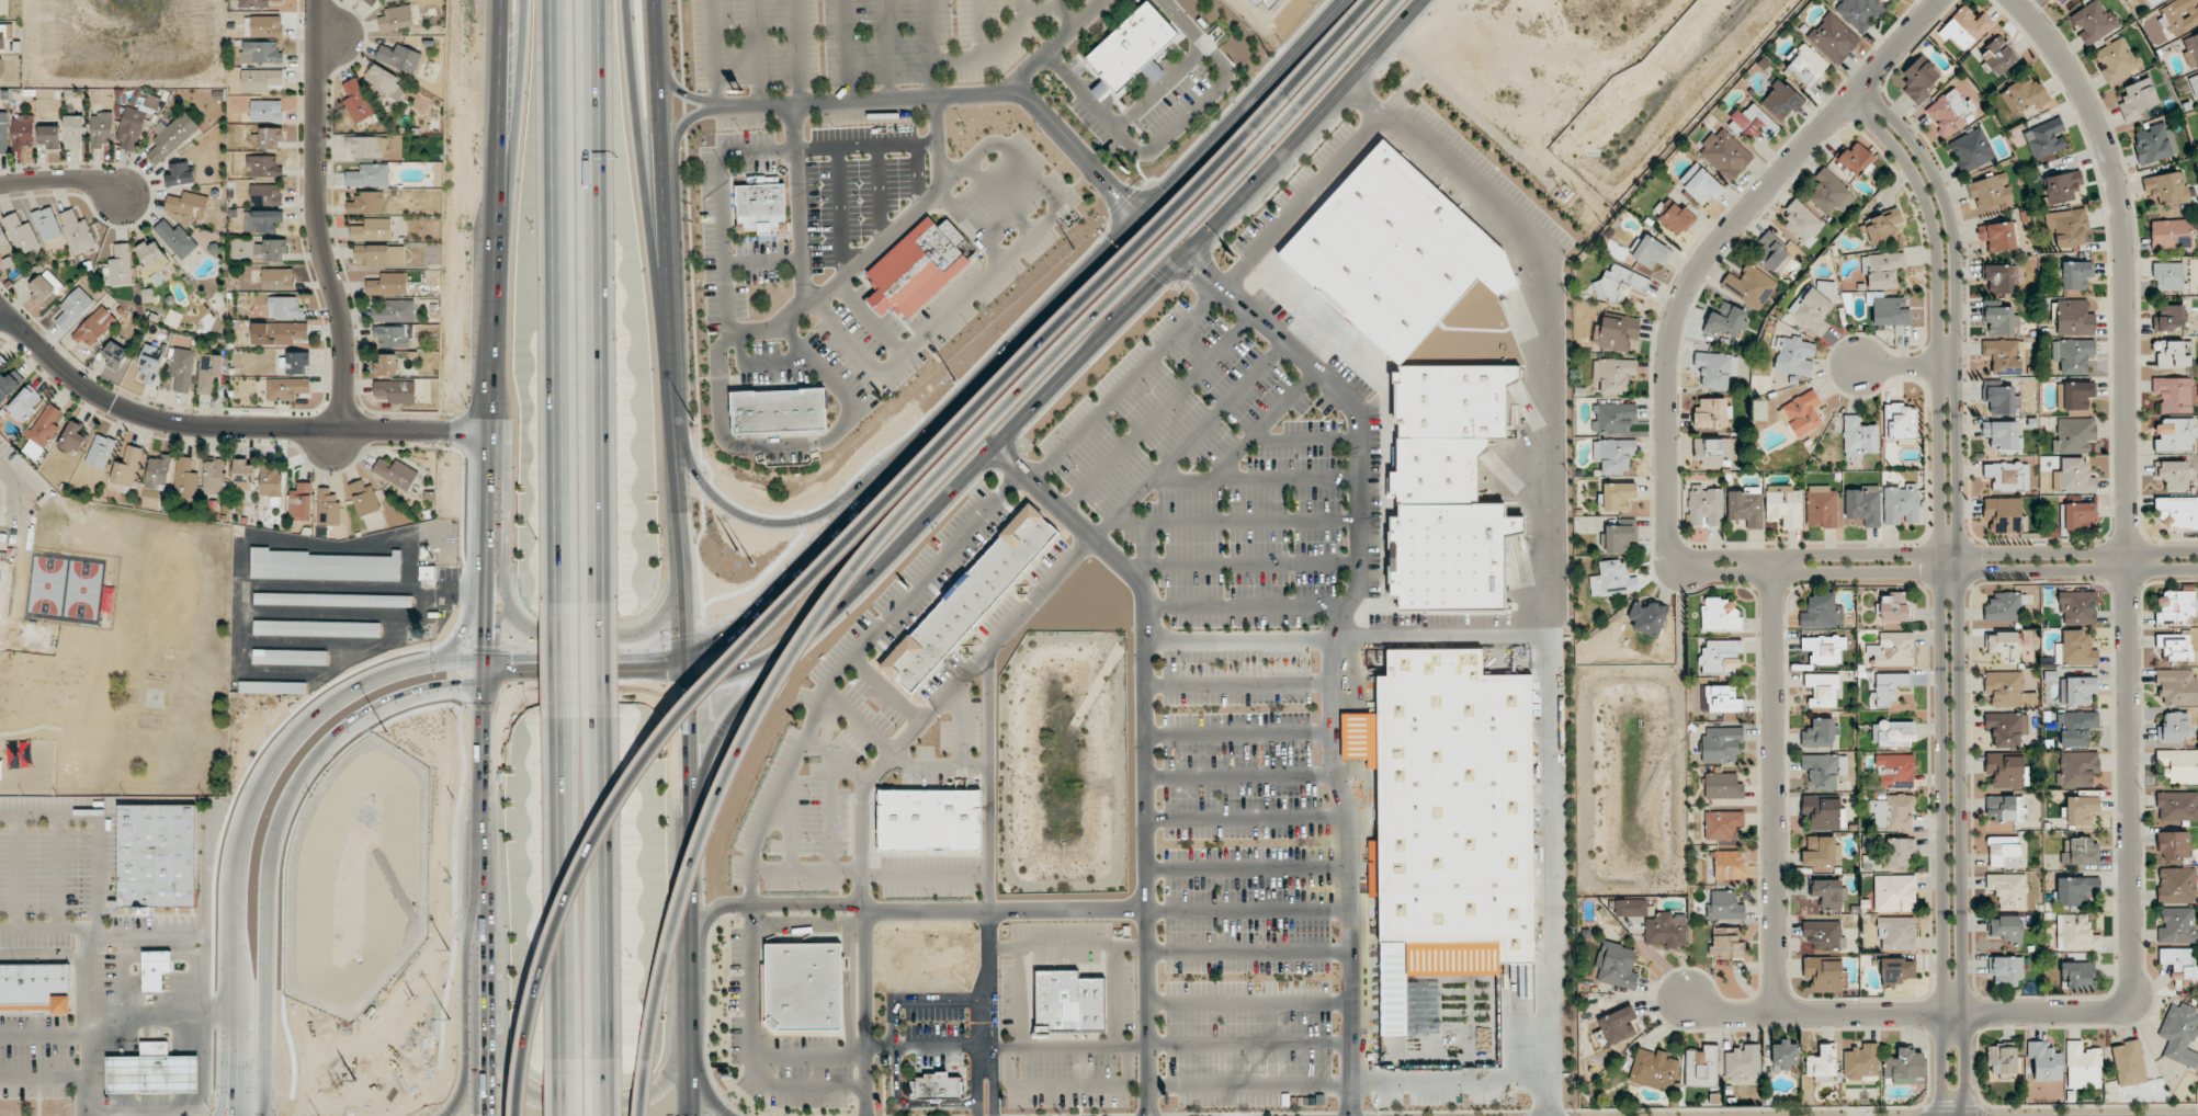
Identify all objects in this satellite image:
building: (1883, 0)
building: (1256, 2)
building: (1273, 2)
building: (2152, 2)
building: (261, 3)
building: (375, 3)
building: (2063, 3)
road: (1060, 4)
road: (1051, 10)
building: (1859, 12)
building: (2180, 15)
building: (397, 18)
building: (2093, 22)
building: (263, 26)
building: (1965, 27)
road: (977, 29)
building: (1833, 38)
road: (1055, 45)
building: (1132, 46)
road: (931, 47)
road: (883, 48)
road: (843, 49)
road: (797, 50)
road: (755, 52)
road: (992, 52)
building: (2191, 52)
building: (261, 53)
road: (713, 53)
building: (1999, 56)
building: (399, 57)
power tower: (1269, 57)
building: (2117, 60)
building: (1808, 66)
building: (0, 69)
building: (1153, 72)
building: (1921, 79)
building: (260, 80)
building: (384, 81)
building: (2194, 84)
road: (680, 93)
building: (2024, 95)
building: (2138, 99)
building: (358, 101)
building: (1781, 101)
building: (267, 111)
building: (136, 122)
building: (1754, 123)
road: (684, 126)
building: (101, 128)
building: (73, 130)
building: (4, 132)
building: (22, 132)
building: (49, 135)
building: (2046, 136)
building: (172, 137)
building: (270, 138)
road: (499, 144)
building: (2154, 144)
road: (518, 145)
building: (366, 146)
building: (1972, 150)
building: (1725, 153)
building: (1856, 159)
building: (262, 166)
road: (647, 170)
road: (664, 170)
building: (181, 174)
building: (369, 175)
road: (60, 180)
building: (1701, 184)
building: (2061, 186)
building: (2166, 187)
building: (1991, 191)
building: (1829, 192)
building: (267, 194)
building: (366, 203)
building: (188, 204)
road: (795, 206)
road: (721, 207)
building: (762, 207)
road: (314, 216)
building: (1677, 219)
building: (262, 220)
building: (47, 224)
building: (1803, 224)
building: (1882, 227)
building: (2069, 227)
building: (372, 229)
building: (78, 231)
building: (22, 234)
building: (2172, 234)
building: (1998, 236)
building: (177, 239)
building: (4, 241)
road: (873, 247)
power tower: (1072, 249)
building: (271, 250)
building: (1650, 251)
building: (1771, 251)
building: (1395, 252)
road: (1710, 252)
building: (379, 255)
building: (152, 257)
building: (121, 265)
road: (761, 265)
building: (919, 265)
building: (1882, 270)
building: (2076, 274)
building: (2168, 276)
building: (2002, 277)
building: (277, 278)
building: (387, 284)
building: (1619, 284)
building: (1751, 286)
building: (45, 287)
building: (1825, 288)
road: (1137, 298)
road: (553, 300)
road: (598, 300)
building: (285, 307)
building: (73, 308)
building: (1888, 309)
building: (393, 310)
building: (1812, 311)
building: (2073, 318)
building: (2169, 318)
building: (2001, 320)
building: (1727, 321)
building: (95, 327)
building: (286, 332)
building: (1619, 332)
building: (394, 335)
building: (115, 354)
building: (2073, 354)
building: (2171, 354)
building: (1794, 356)
building: (2004, 356)
building: (1, 360)
building: (297, 362)
building: (150, 363)
building: (386, 365)
road: (1910, 367)
building: (183, 368)
building: (1717, 368)
road: (755, 371)
building: (208, 372)
building: (1613, 374)
building: (9, 385)
road: (1323, 387)
building: (286, 388)
building: (394, 390)
building: (2175, 394)
building: (2075, 396)
building: (2001, 399)
building: (25, 405)
building: (780, 409)
building: (1712, 413)
building: (1801, 413)
building: (1614, 418)
road: (148, 419)
building: (1900, 423)
road: (415, 430)
building: (2002, 434)
building: (2074, 434)
building: (2175, 435)
building: (73, 437)
building: (1859, 437)
road: (792, 445)
building: (101, 451)
building: (1713, 452)
building: (1613, 455)
building: (128, 467)
building: (158, 470)
building: (396, 472)
building: (2173, 474)
building: (245, 475)
building: (2008, 476)
building: (186, 477)
building: (214, 477)
building: (2074, 477)
road: (2127, 487)
road: (492, 488)
building: (1448, 489)
building: (1618, 496)
road: (916, 497)
building: (364, 498)
building: (301, 501)
building: (1901, 504)
building: (1785, 505)
building: (1863, 505)
building: (1704, 506)
building: (1746, 506)
building: (1822, 506)
building: (328, 508)
building: (2178, 512)
building: (2004, 513)
road: (873, 514)
building: (2077, 515)
building: (1621, 536)
power tower: (736, 550)
road: (1949, 554)
building: (325, 566)
road: (1948, 572)
building: (427, 573)
building: (1613, 580)
road: (684, 581)
road: (1960, 585)
road: (1942, 593)
road: (728, 599)
building: (332, 600)
building: (964, 601)
building: (1895, 606)
building: (2176, 606)
building: (2005, 607)
building: (2078, 607)
building: (1821, 611)
building: (1720, 615)
building: (1648, 617)
road: (739, 622)
building: (317, 628)
road: (241, 630)
road: (576, 640)
traffic signals: (710, 646)
building: (2005, 646)
building: (2175, 647)
building: (1824, 649)
building: (1893, 649)
building: (2075, 649)
building: (1721, 656)
building: (290, 657)
road: (764, 657)
road: (556, 659)
road: (601, 659)
traffic signals: (465, 665)
road: (1550, 675)
road: (573, 683)
traffic signals: (661, 683)
traffic signals: (512, 684)
road: (1238, 685)
building: (2177, 686)
building: (272, 687)
building: (1890, 687)
building: (1823, 688)
building: (2008, 690)
building: (2077, 691)
road: (750, 695)
building: (1723, 699)
traffic signals: (681, 701)
traffic signals: (486, 708)
building: (2174, 727)
building: (2007, 728)
building: (2076, 728)
building: (1819, 733)
building: (1893, 733)
road: (1238, 736)
building: (1721, 743)
road: (1147, 748)
building: (2179, 764)
building: (2077, 768)
building: (1, 771)
building: (1821, 771)
building: (1895, 771)
road: (1238, 777)
road: (1775, 784)
road: (868, 786)
building: (1723, 786)
building: (2177, 806)
building: (2005, 808)
building: (2081, 809)
building: (1893, 811)
building: (1823, 812)
building: (930, 819)
road: (1246, 819)
building: (1443, 820)
building: (1722, 824)
road: (273, 831)
building: (2173, 845)
building: (1899, 851)
building: (2004, 851)
building: (1821, 852)
building: (2081, 852)
building: (158, 855)
building: (1729, 865)
road: (485, 868)
road: (1247, 868)
building: (2177, 885)
road: (558, 889)
road: (605, 889)
building: (2009, 890)
building: (2075, 890)
building: (1894, 892)
building: (1829, 893)
road: (769, 904)
building: (1724, 906)
building: (1631, 908)
road: (1247, 910)
road: (1004, 911)
building: (2177, 925)
building: (1667, 929)
building: (2007, 929)
building: (1896, 933)
building: (2075, 933)
building: (1823, 935)
building: (1726, 943)
road: (1067, 945)
power tower: (446, 952)
road: (1247, 953)
building: (2180, 961)
building: (1617, 965)
building: (156, 968)
road: (690, 969)
building: (2006, 969)
building: (1896, 971)
building: (1824, 975)
building: (2078, 976)
building: (804, 984)
building: (36, 988)
road: (983, 990)
road: (1018, 998)
road: (1112, 998)
road: (916, 1001)
building: (1092, 1004)
road: (1247, 1004)
road: (1905, 1014)
building: (1618, 1025)
building: (2179, 1034)
road: (1248, 1046)
road: (1004, 1047)
building: (1786, 1055)
building: (2003, 1058)
building: (2046, 1061)
building: (1743, 1062)
building: (1861, 1062)
building: (1822, 1063)
building: (2129, 1063)
building: (1905, 1066)
building: (1701, 1067)
building: (2083, 1067)
building: (1653, 1069)
road: (983, 1070)
building: (151, 1074)
road: (63, 1077)
road: (481, 1082)
road: (1449, 1082)
power tower: (352, 1083)
road: (469, 1084)
road: (704, 1084)
building: (937, 1086)
road: (1248, 1086)
road: (560, 1089)
road: (608, 1089)
road: (1066, 1089)
road: (587, 1104)
road: (907, 1105)
road: (240, 1113)
traffic signals: (483, 1113)

